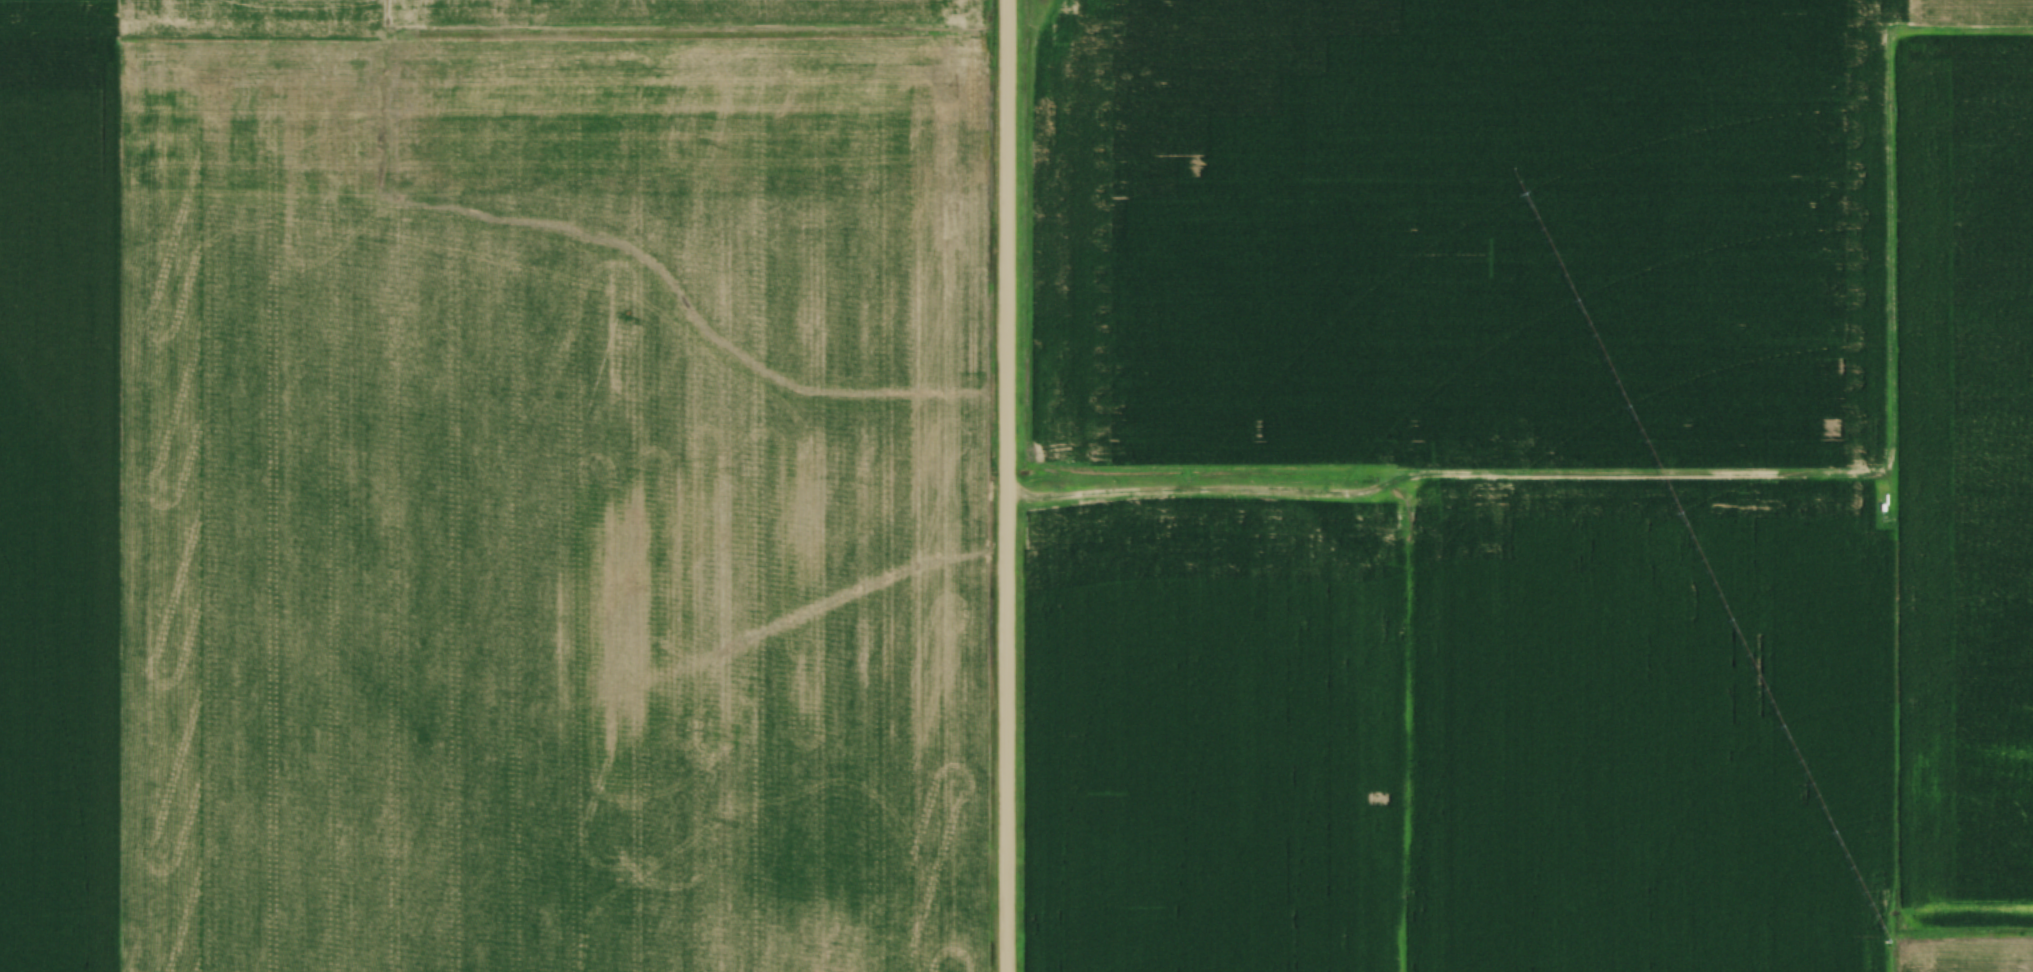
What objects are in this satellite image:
road: (1008, 485)

